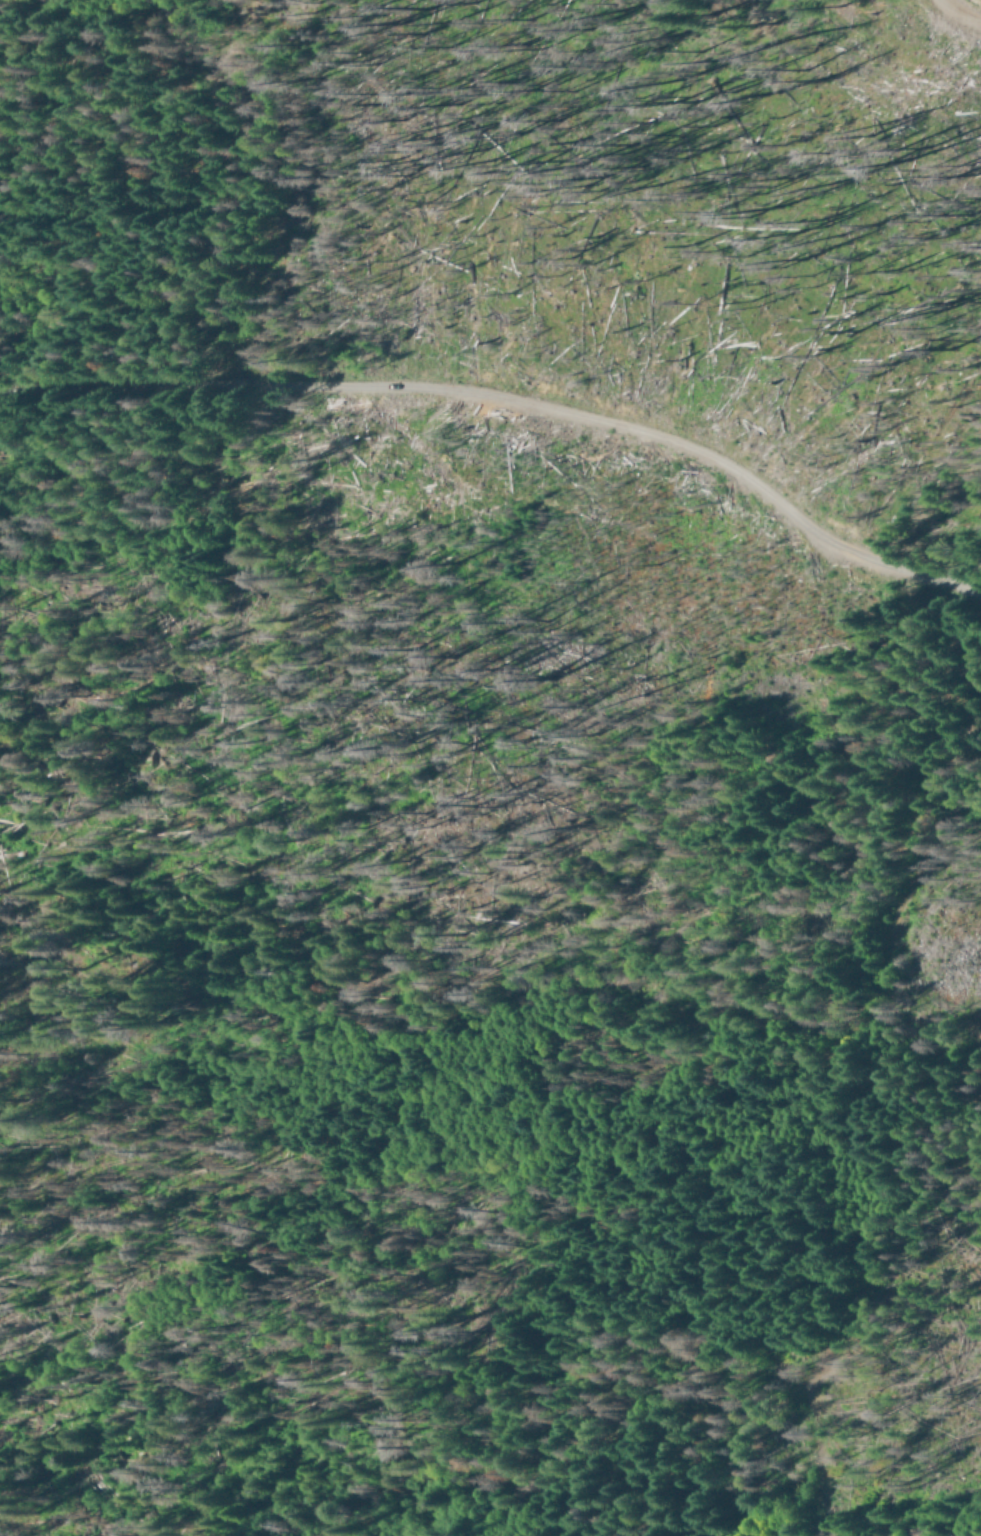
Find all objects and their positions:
road: (971, 5)
road: (513, 402)

